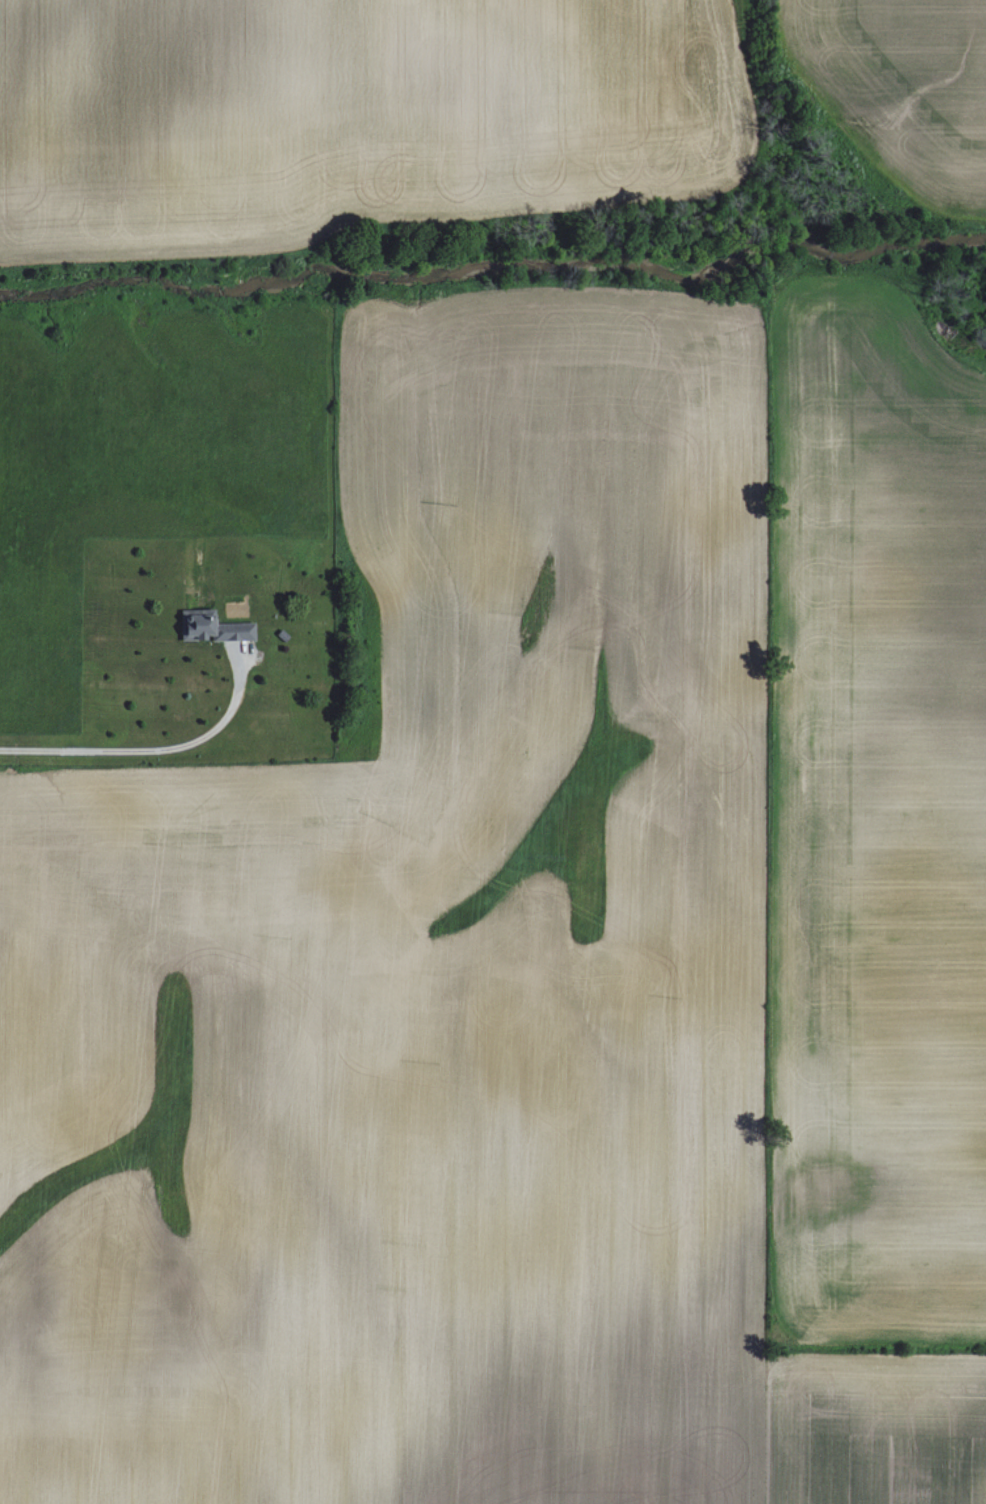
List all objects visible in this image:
road: (144, 750)

